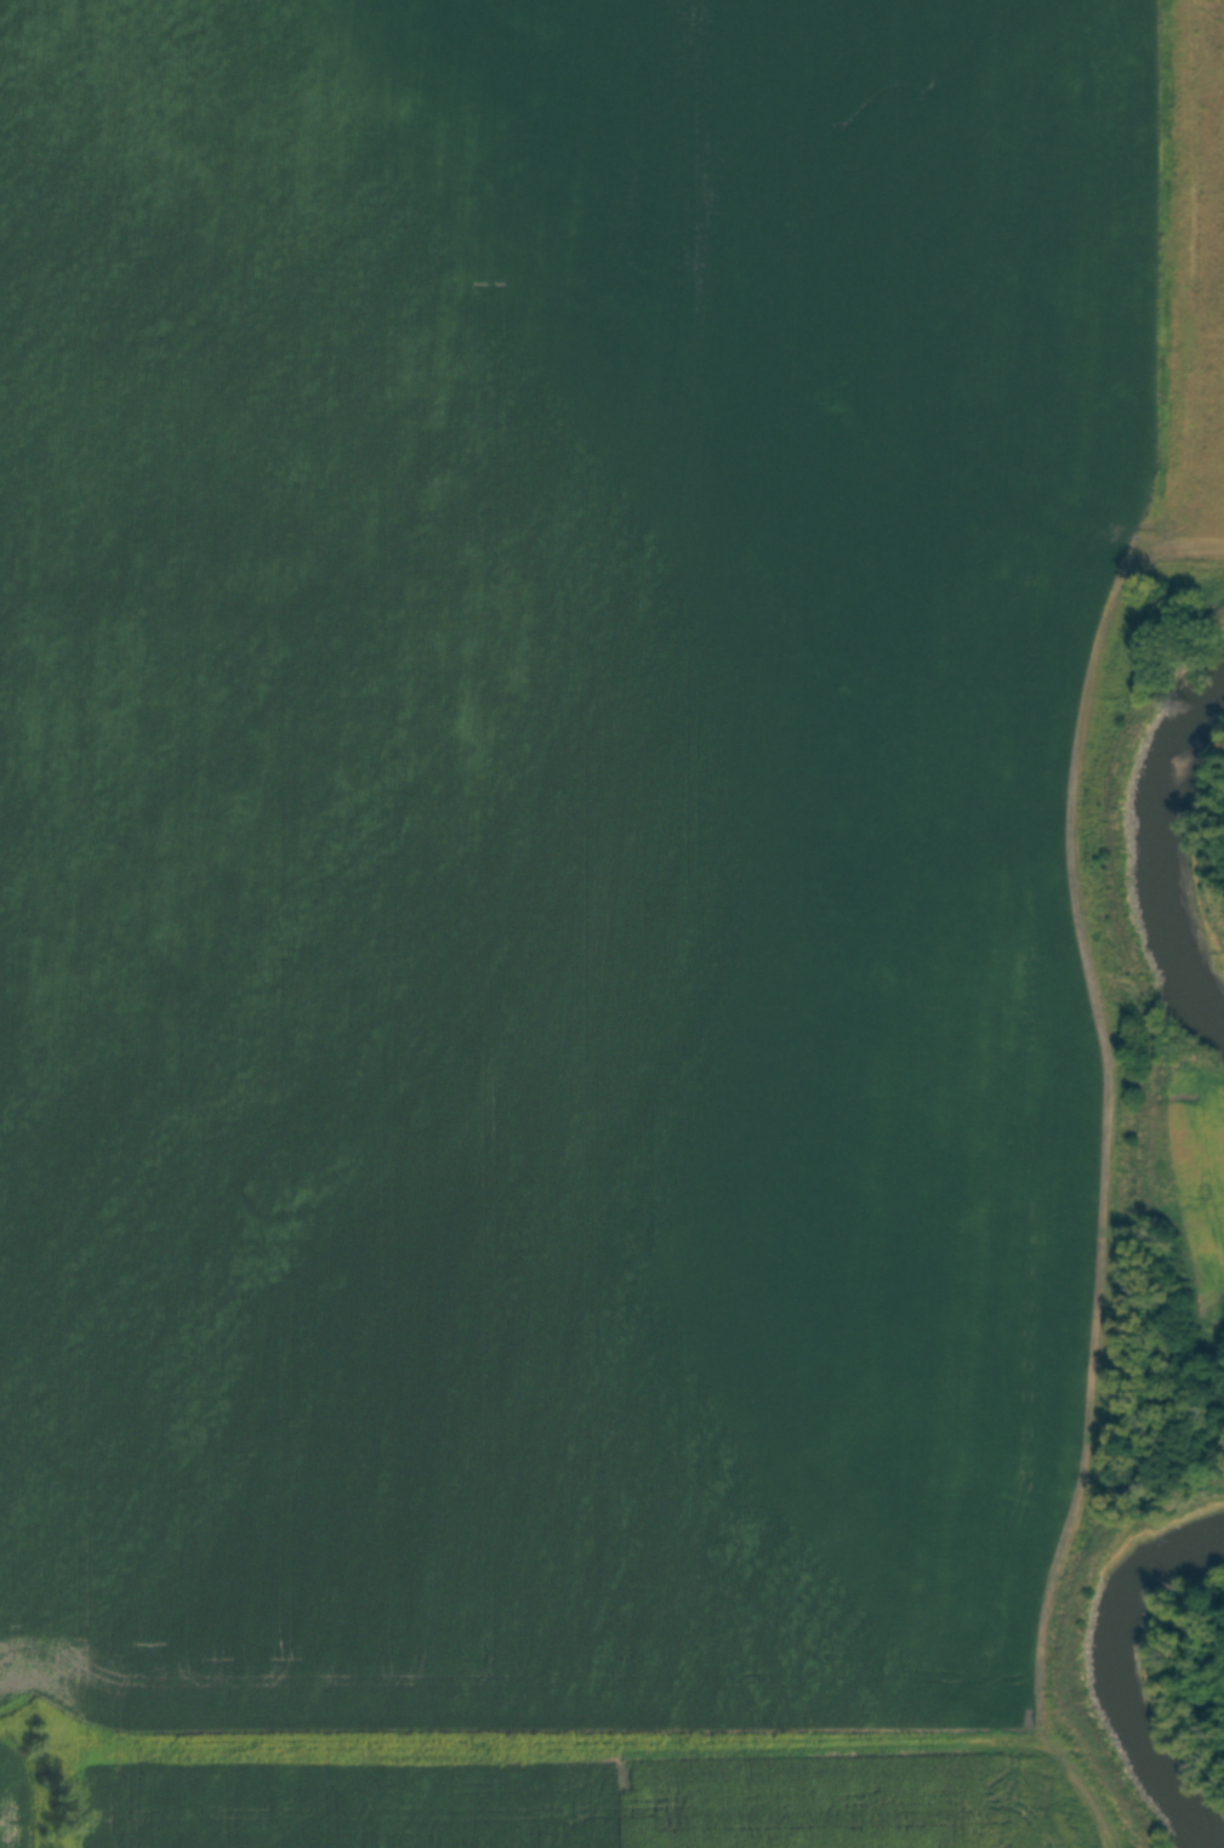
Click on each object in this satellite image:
river: (1156, 842)
river: (1116, 1664)

